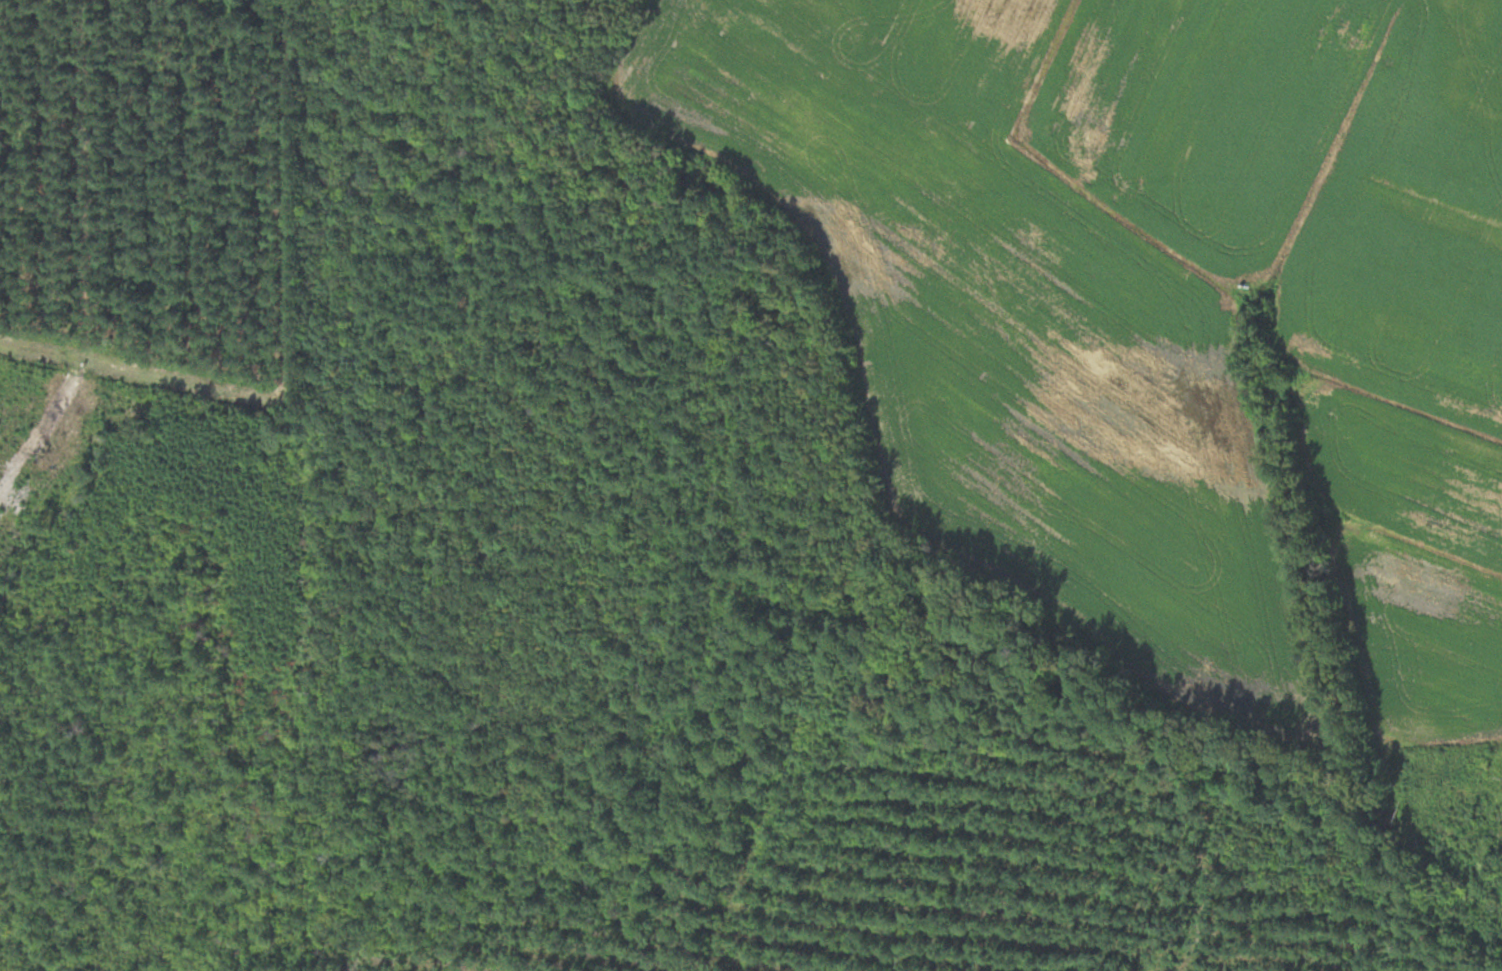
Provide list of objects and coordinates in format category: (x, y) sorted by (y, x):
road: (1474, 243)

